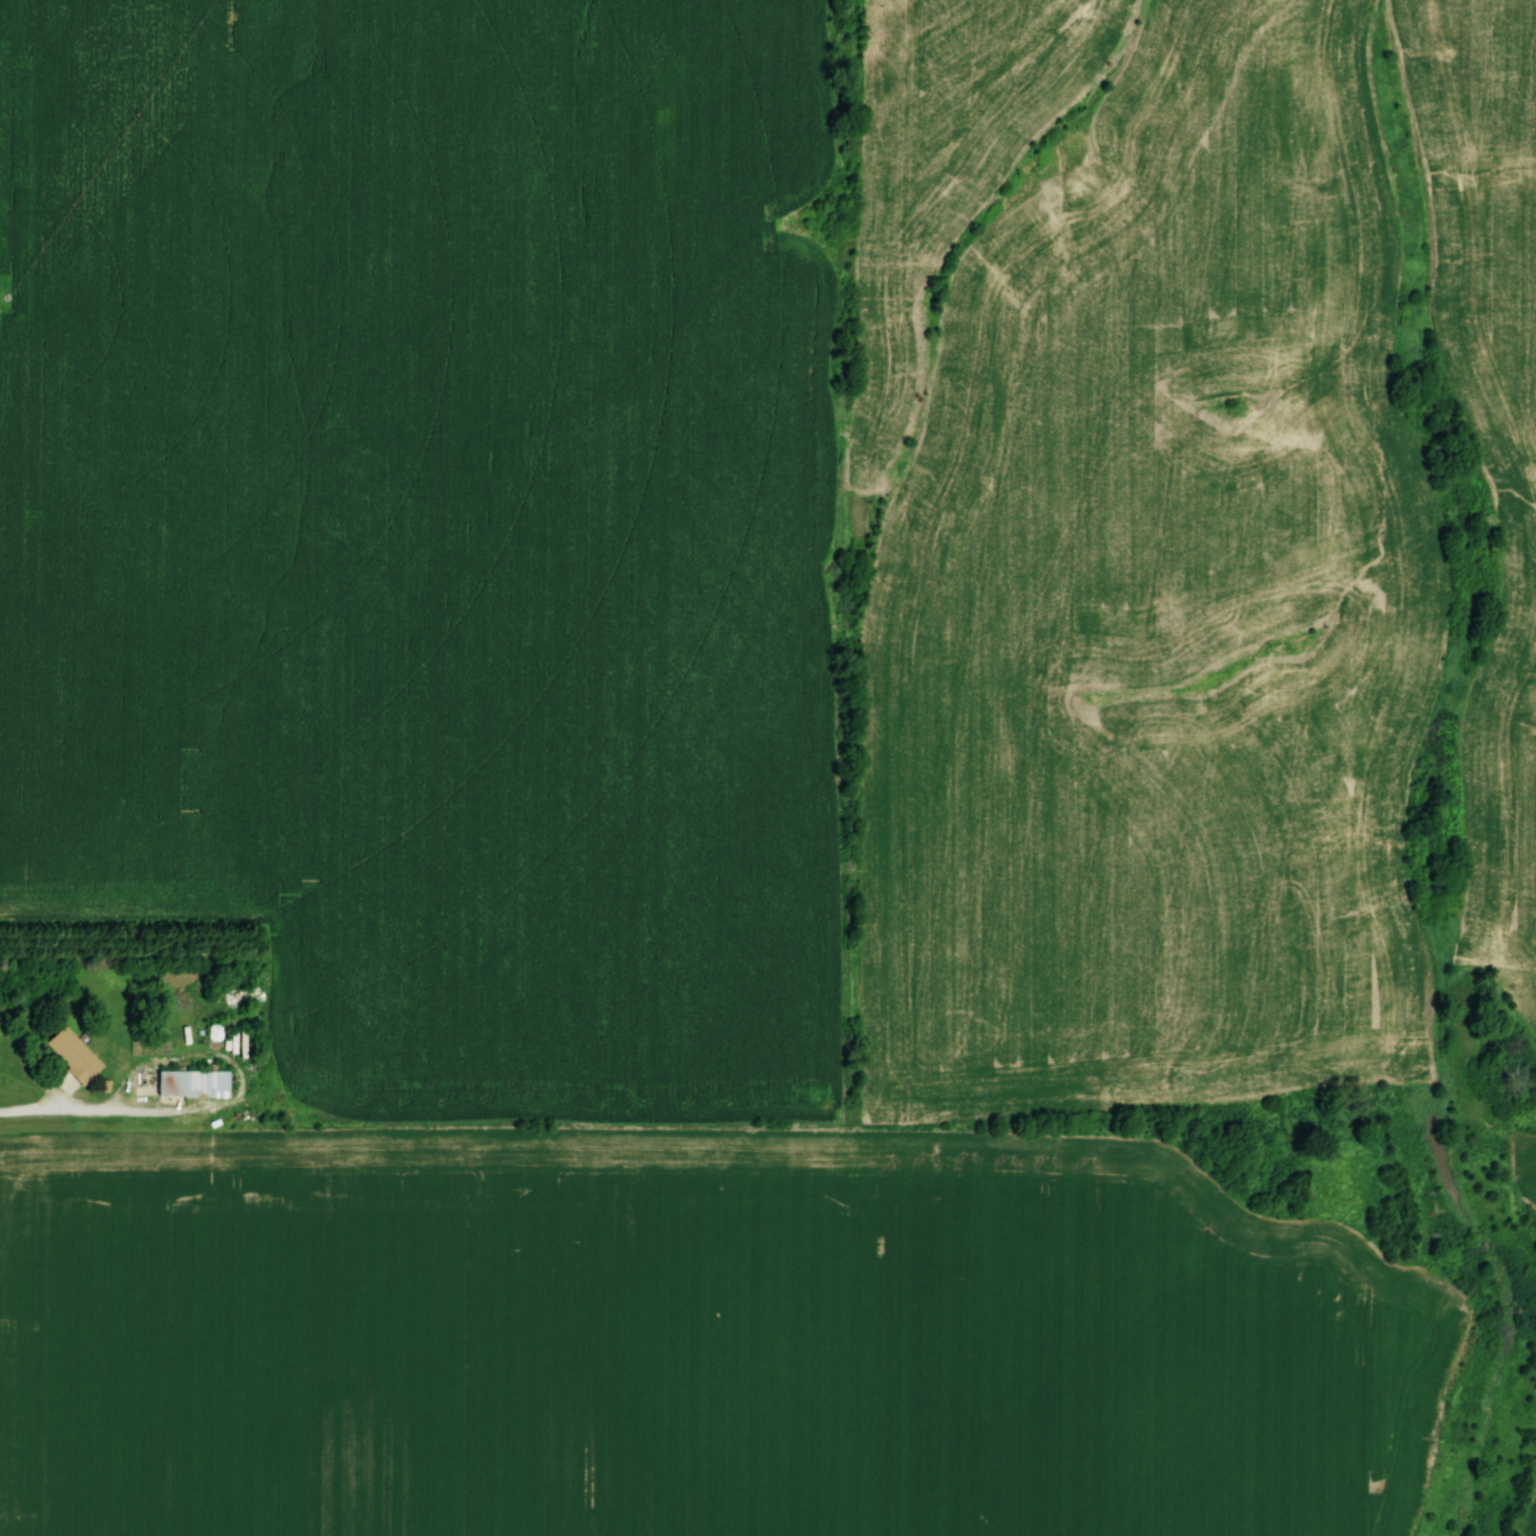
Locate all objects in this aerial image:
building: (249, 991)
building: (70, 1054)
building: (187, 1083)
road: (240, 1094)
road: (56, 1116)

